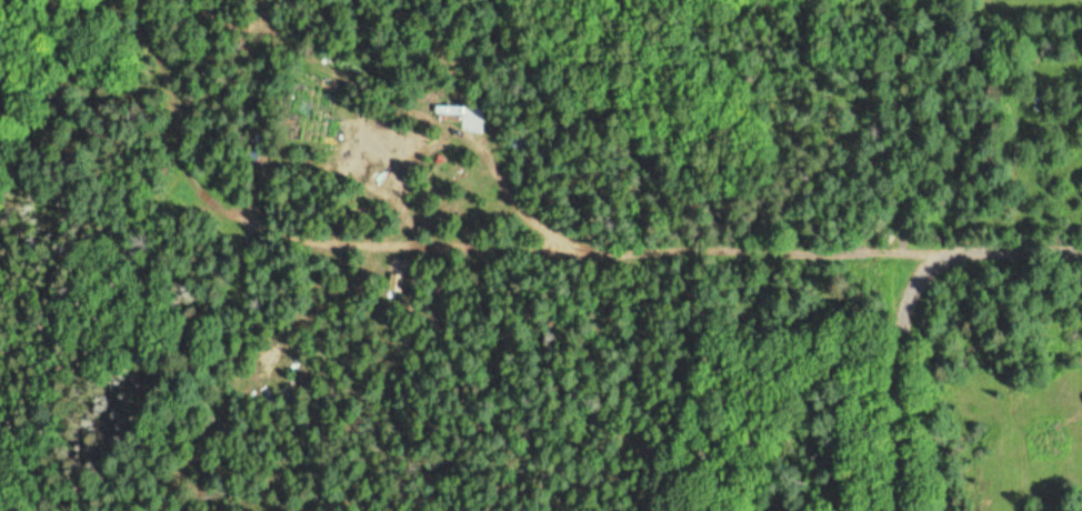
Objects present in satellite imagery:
road: (911, 310)

